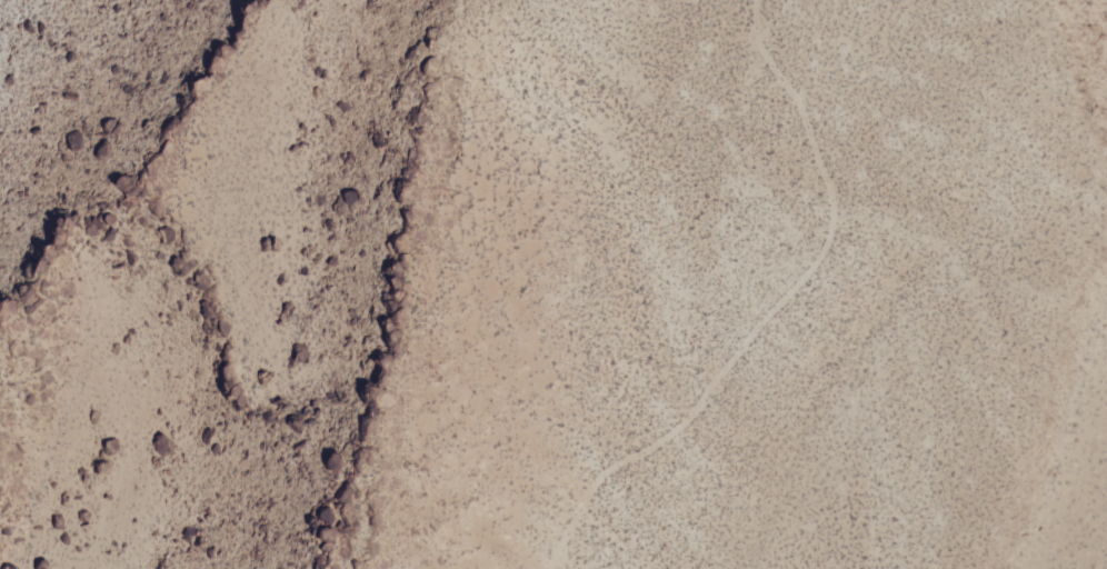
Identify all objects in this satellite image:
road: (751, 308)

